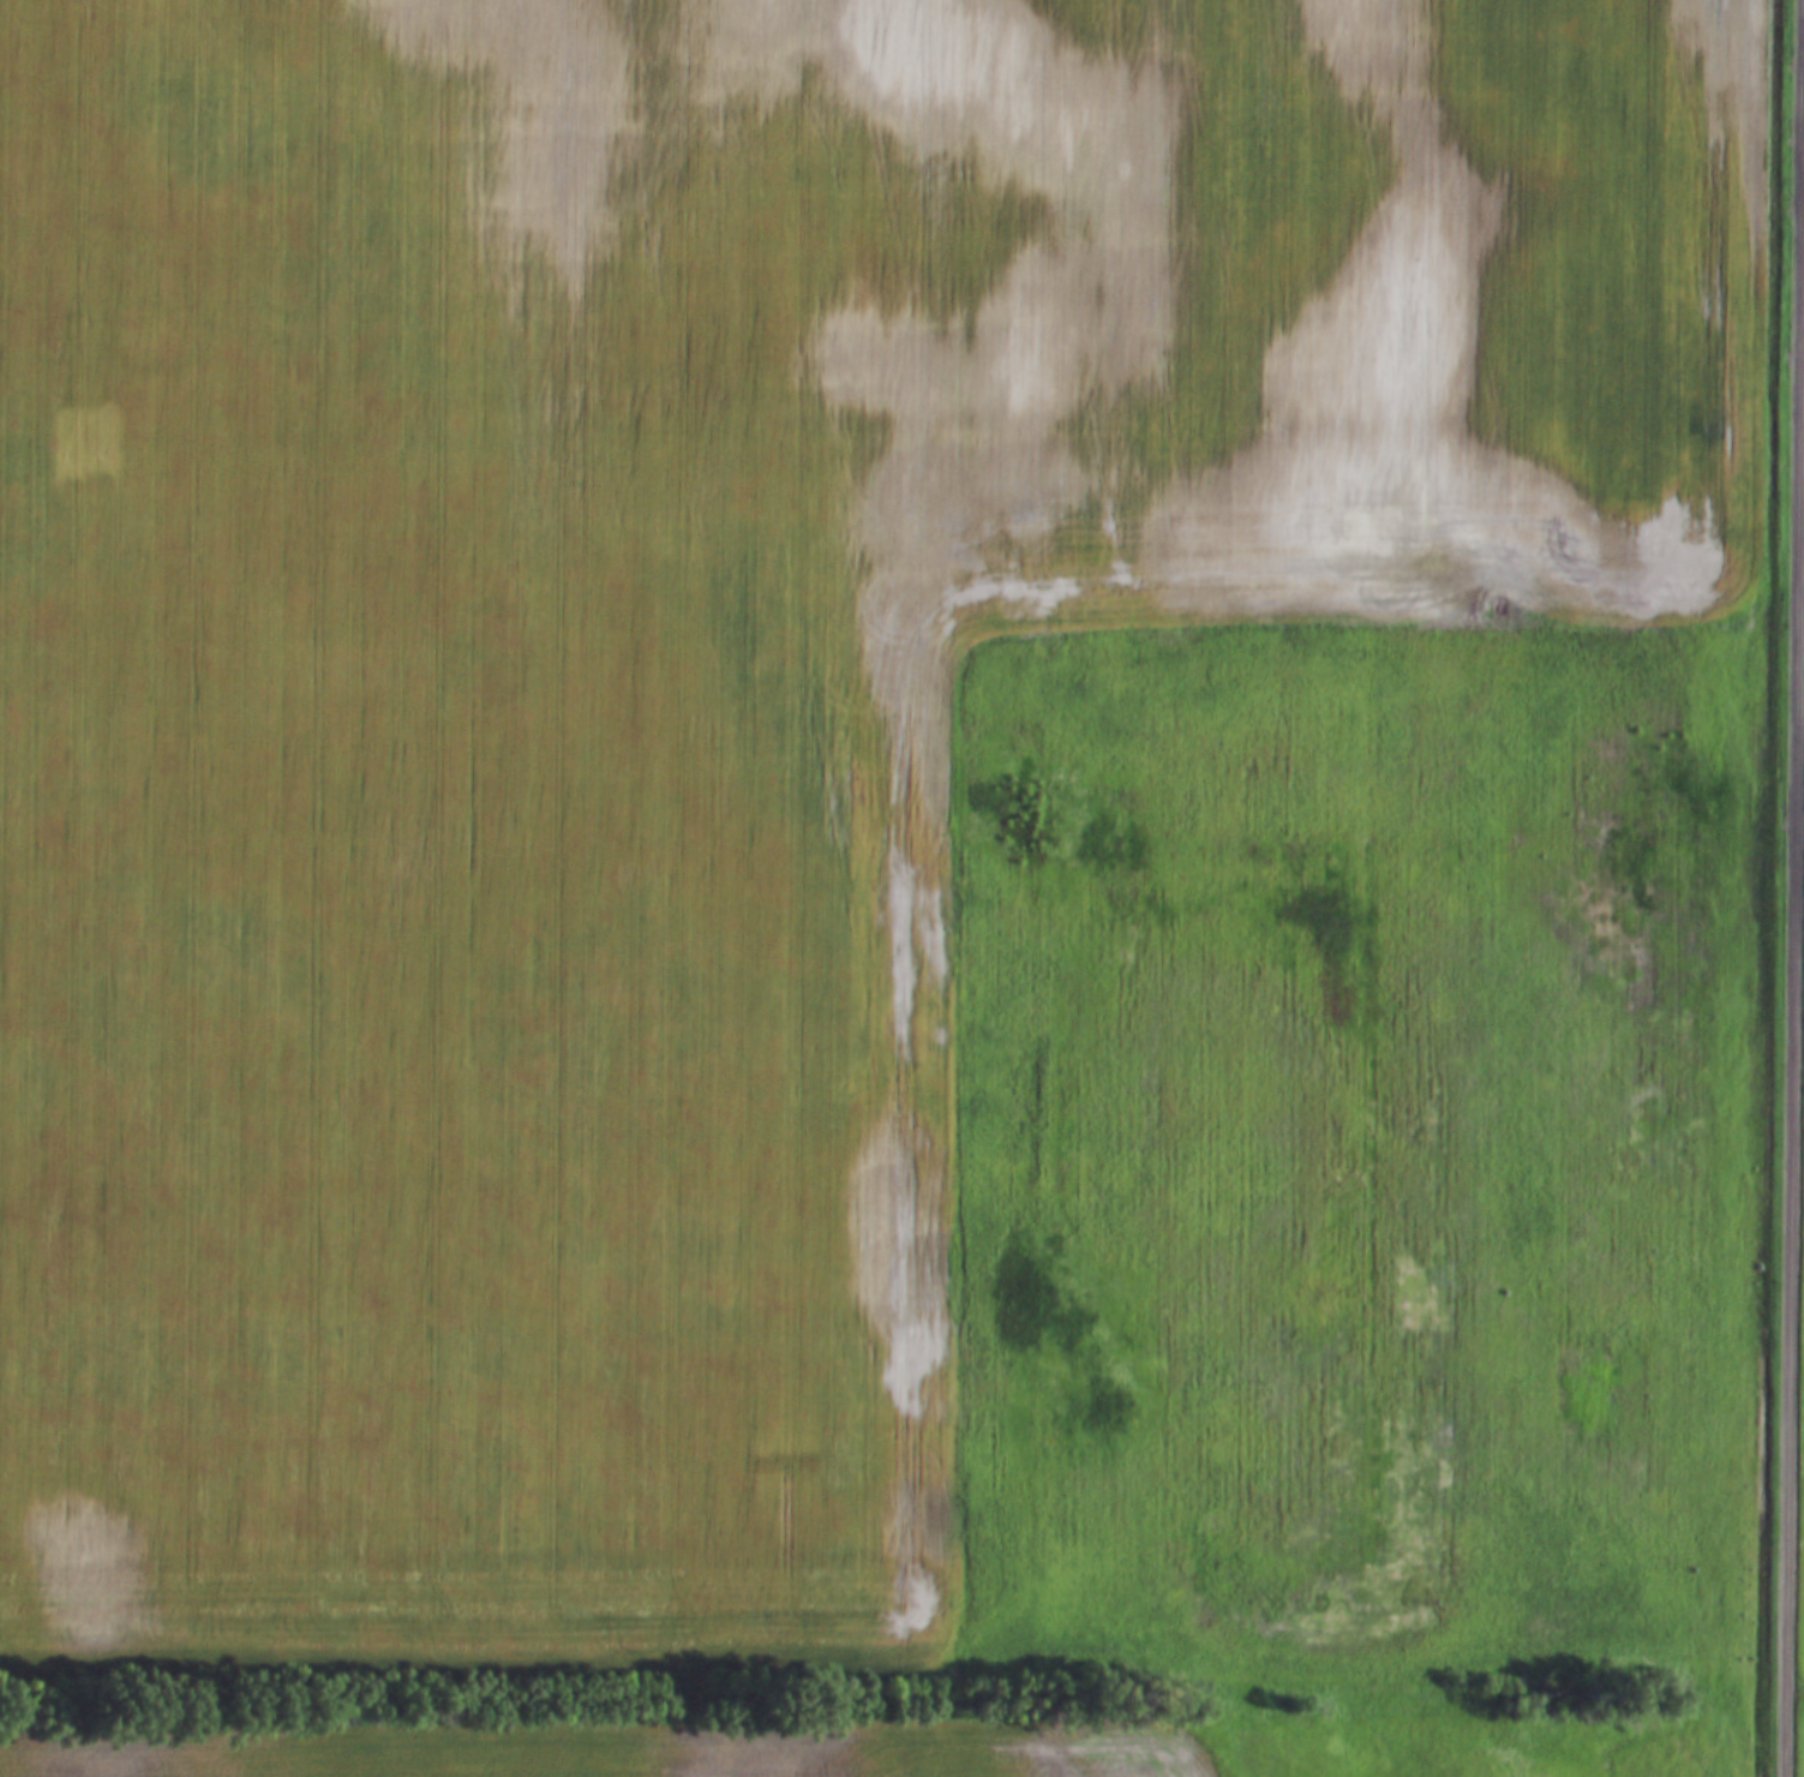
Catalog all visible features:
road: (1798, 1195)

